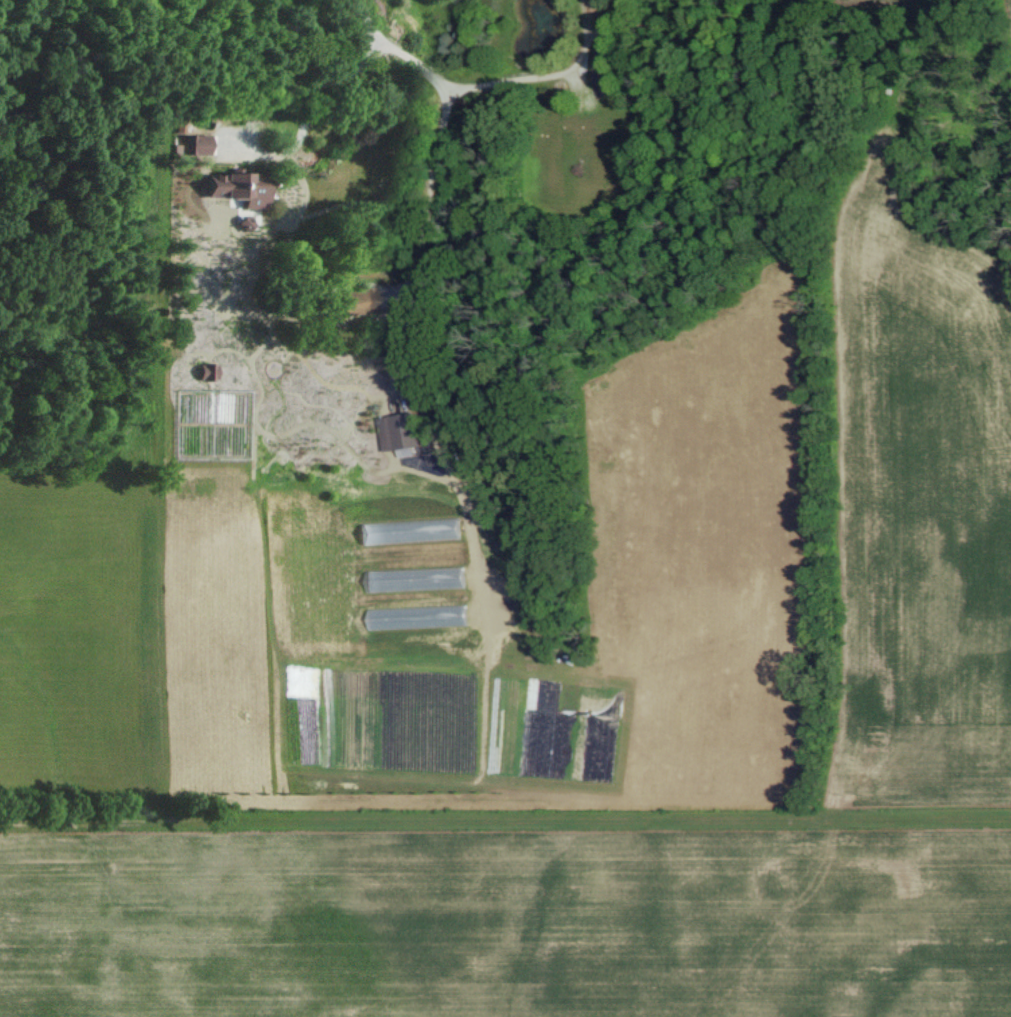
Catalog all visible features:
road: (528, 81)
road: (304, 101)
road: (454, 118)
building: (184, 143)
building: (227, 187)
building: (357, 301)

